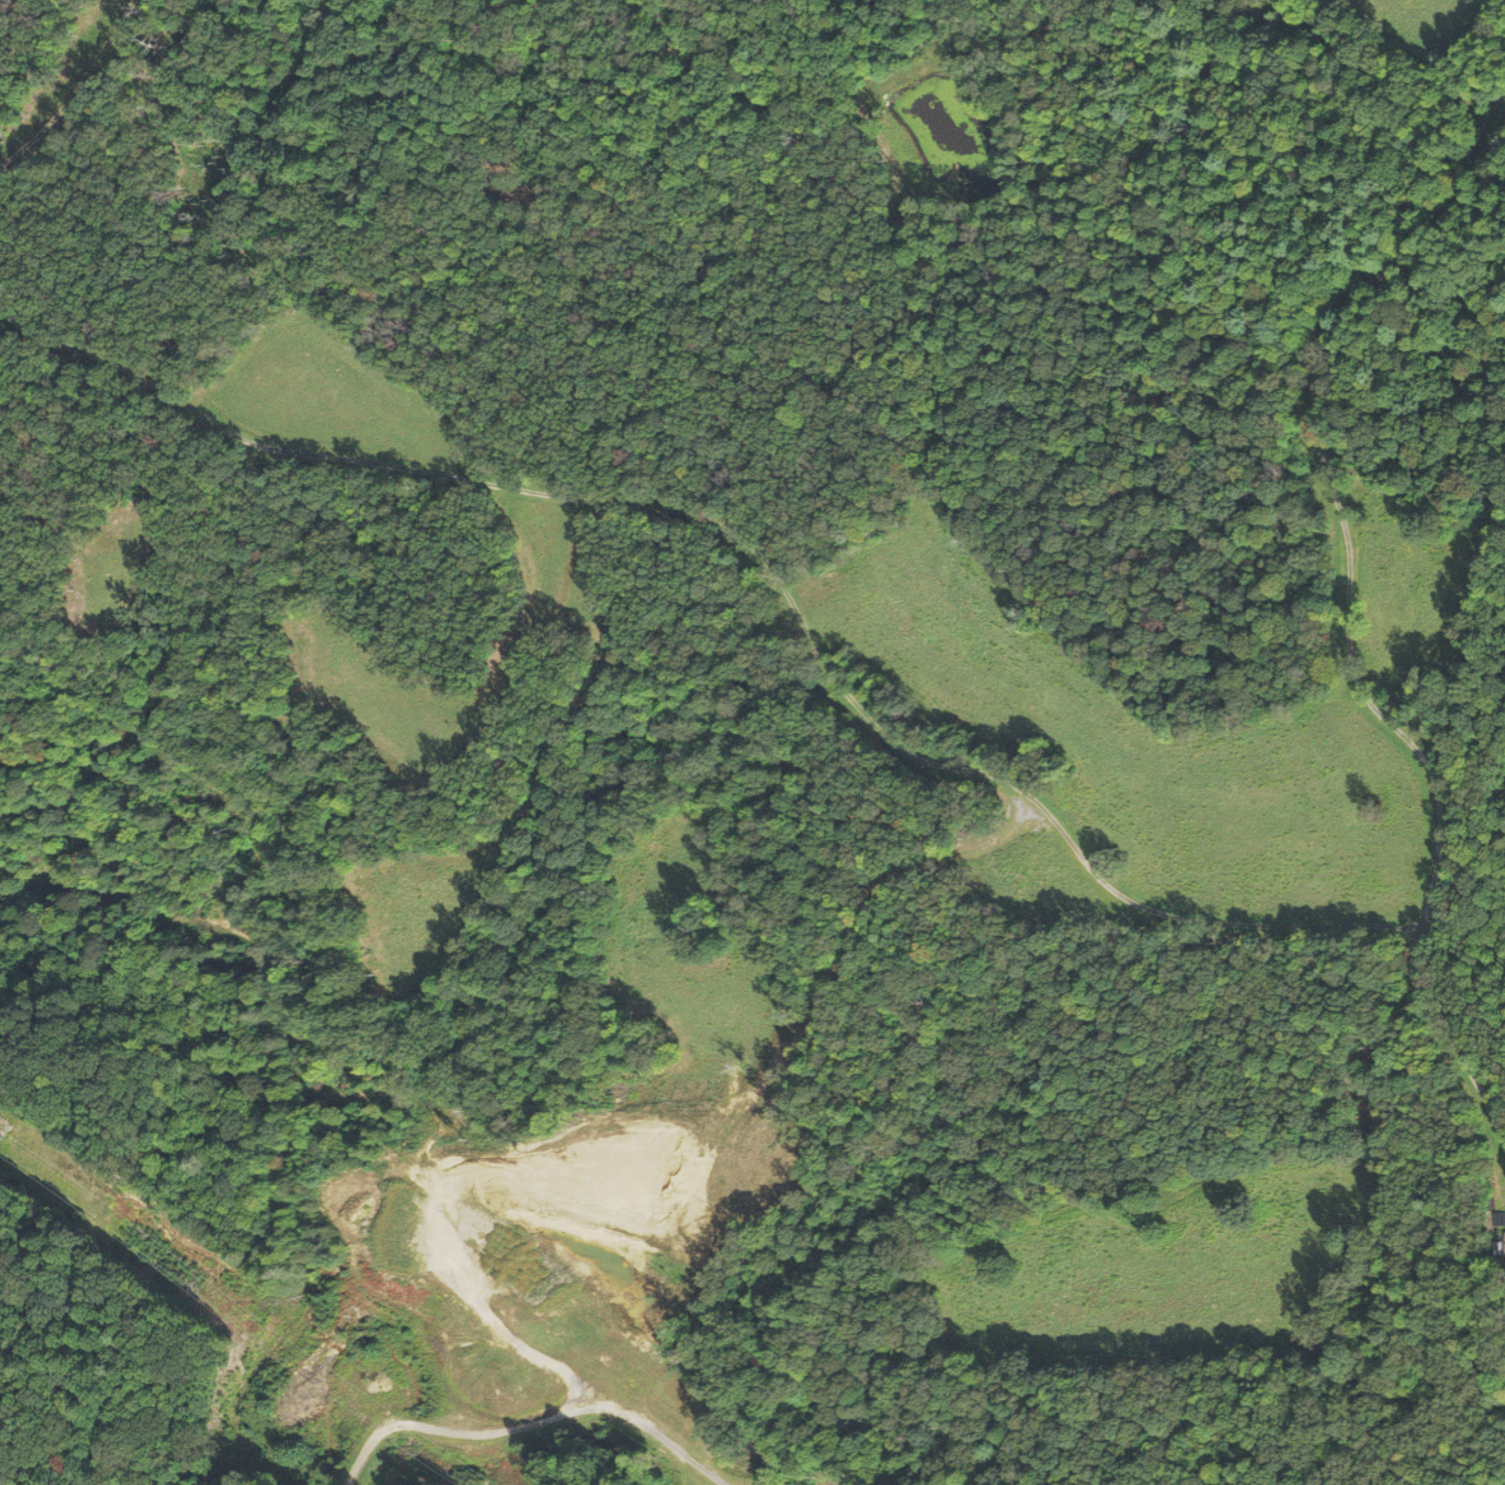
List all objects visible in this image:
power tower: (1, 1125)
road: (529, 1424)

